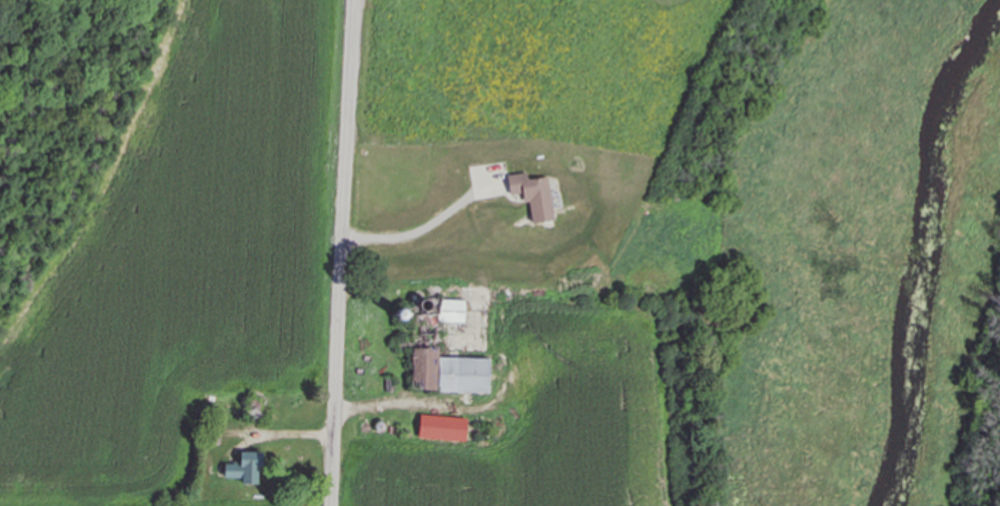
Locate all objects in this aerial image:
quarry: (56, 114)
building: (532, 195)
road: (421, 228)
river: (923, 249)
road: (341, 252)
building: (450, 311)
building: (424, 369)
building: (463, 374)
building: (441, 428)
building: (245, 467)

